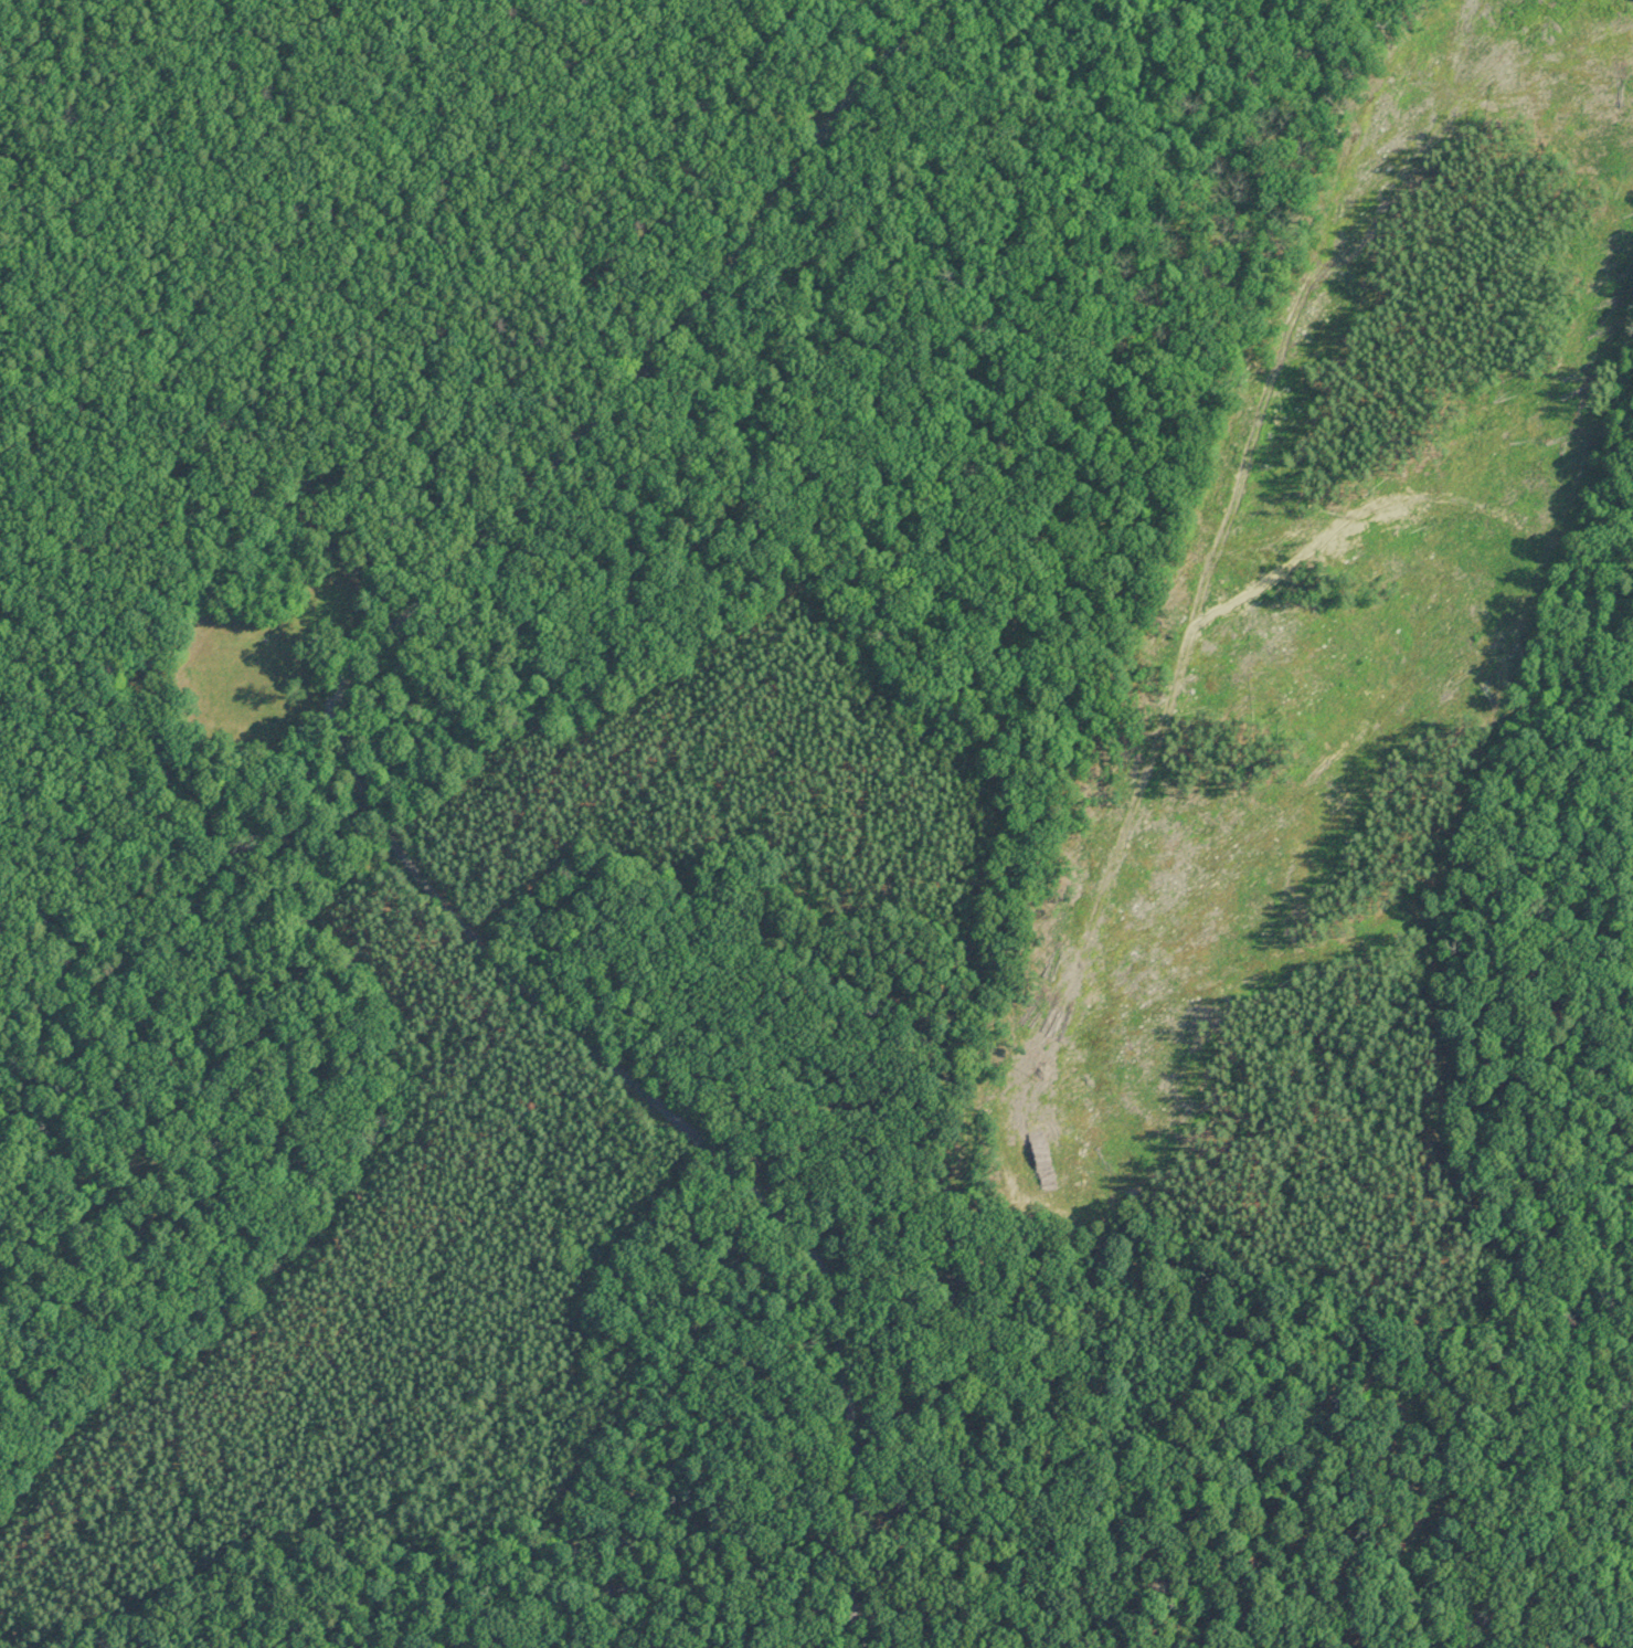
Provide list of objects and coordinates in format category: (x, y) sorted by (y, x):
road: (691, 313)
road: (182, 823)
road: (543, 1179)

